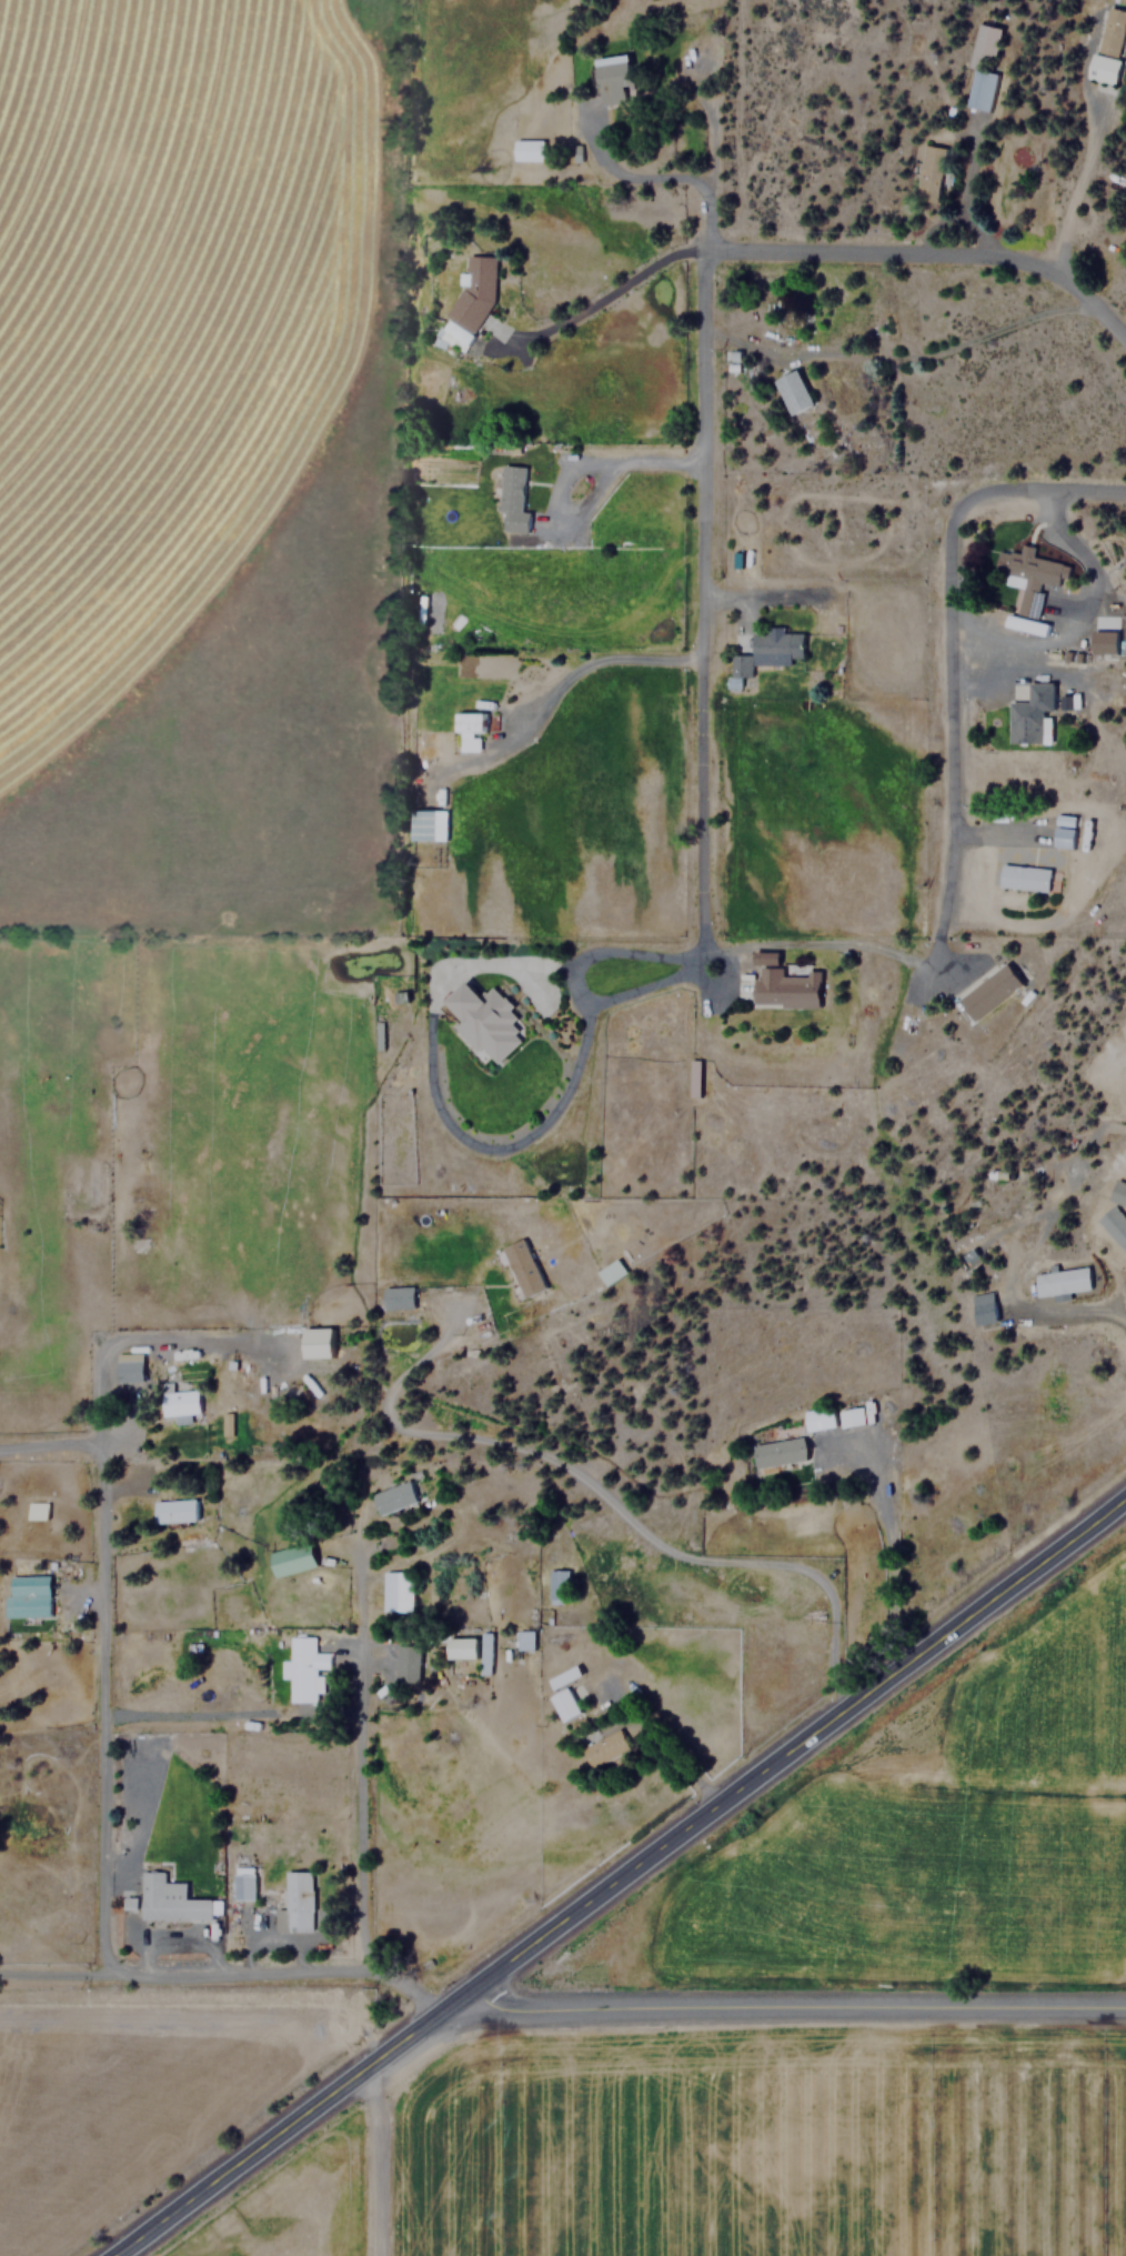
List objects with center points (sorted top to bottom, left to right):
building: (1106, 47)
building: (981, 68)
building: (610, 78)
building: (929, 172)
road: (657, 179)
road: (1078, 182)
road: (967, 187)
crop: (138, 244)
road: (939, 253)
road: (606, 293)
building: (468, 310)
road: (903, 355)
building: (792, 392)
road: (564, 471)
road: (1036, 493)
building: (511, 501)
road: (1086, 558)
building: (1028, 576)
road: (756, 592)
building: (1035, 628)
building: (1104, 642)
building: (765, 653)
road: (582, 668)
building: (1031, 715)
building: (469, 730)
road: (955, 742)
road: (698, 748)
building: (425, 823)
building: (1063, 831)
road: (993, 835)
building: (1024, 878)
road: (817, 944)
building: (783, 987)
building: (989, 992)
building: (485, 1021)
road: (435, 1104)
building: (1116, 1192)
building: (1113, 1226)
building: (524, 1267)
building: (611, 1272)
building: (399, 1297)
building: (979, 1309)
road: (1068, 1312)
building: (316, 1342)
building: (129, 1371)
building: (180, 1402)
building: (852, 1416)
building: (820, 1418)
building: (225, 1424)
building: (782, 1450)
road: (86, 1457)
road: (607, 1495)
building: (394, 1497)
building: (37, 1511)
building: (175, 1511)
road: (889, 1547)
building: (292, 1560)
building: (559, 1586)
building: (398, 1592)
building: (27, 1596)
building: (524, 1640)
building: (485, 1654)
building: (411, 1664)
building: (304, 1667)
building: (563, 1693)
road: (102, 1718)
building: (604, 1747)
road: (363, 1794)
road: (621, 1879)
building: (244, 1883)
building: (171, 1901)
building: (300, 1901)
road: (288, 1973)
road: (786, 2009)
road: (374, 2158)
crop: (288, 2214)

